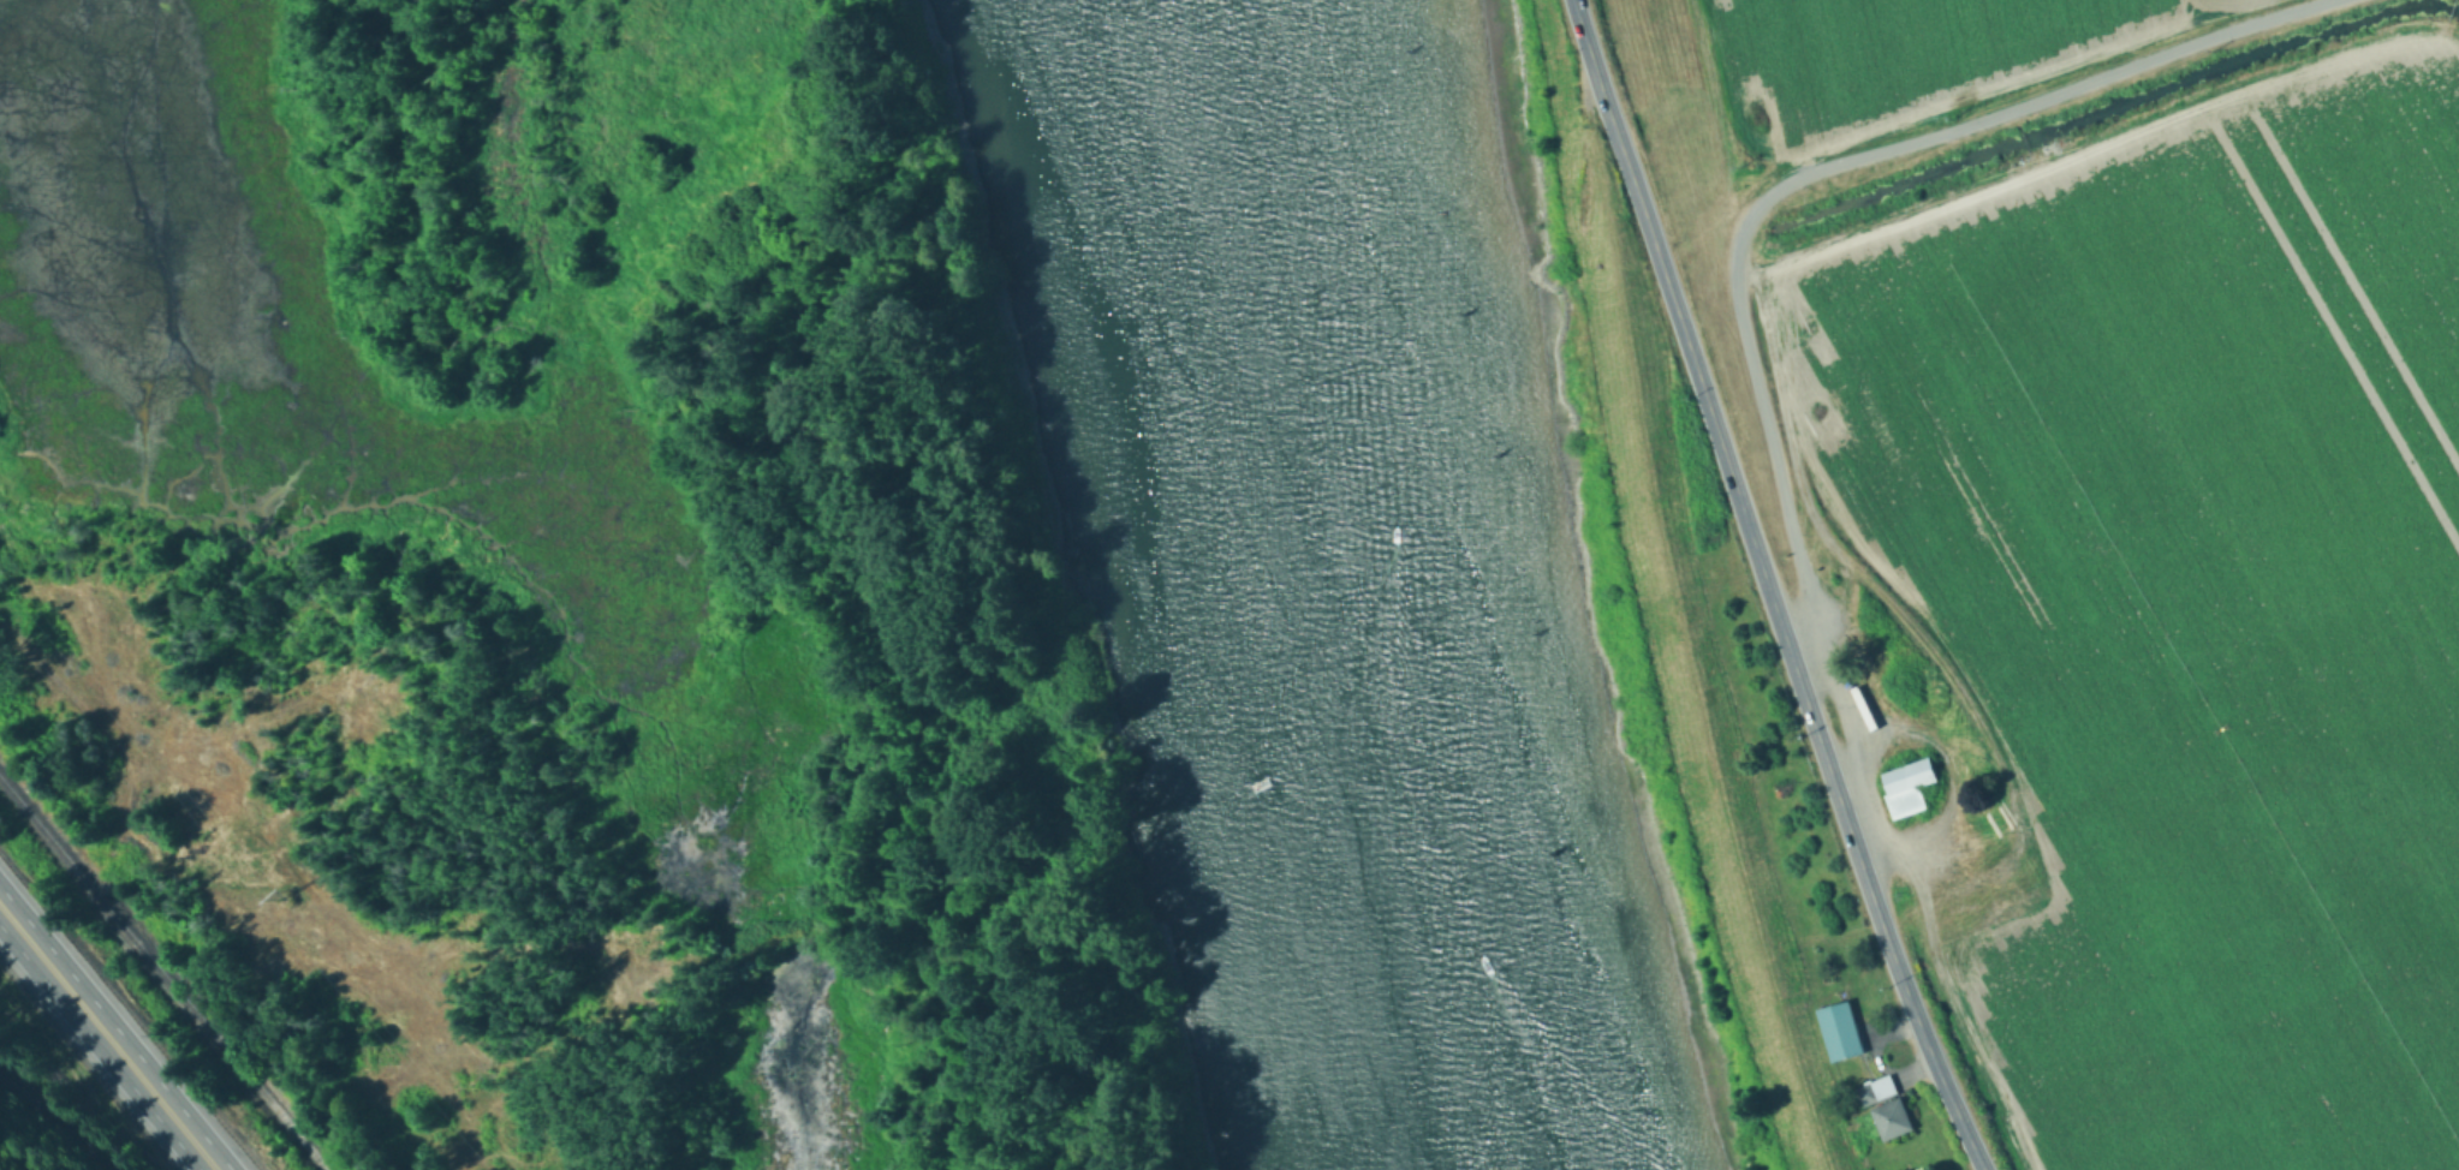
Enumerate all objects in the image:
road: (1582, 14)
crop: (1895, 55)
road: (1814, 177)
road: (1660, 259)
river: (1415, 587)
crop: (2190, 598)
building: (1871, 656)
road: (36, 659)
building: (1907, 782)
road: (1852, 832)
railway: (165, 969)
building: (1840, 1025)
road: (107, 1039)
building: (1872, 1085)
building: (1889, 1114)
railway: (49, 1116)

